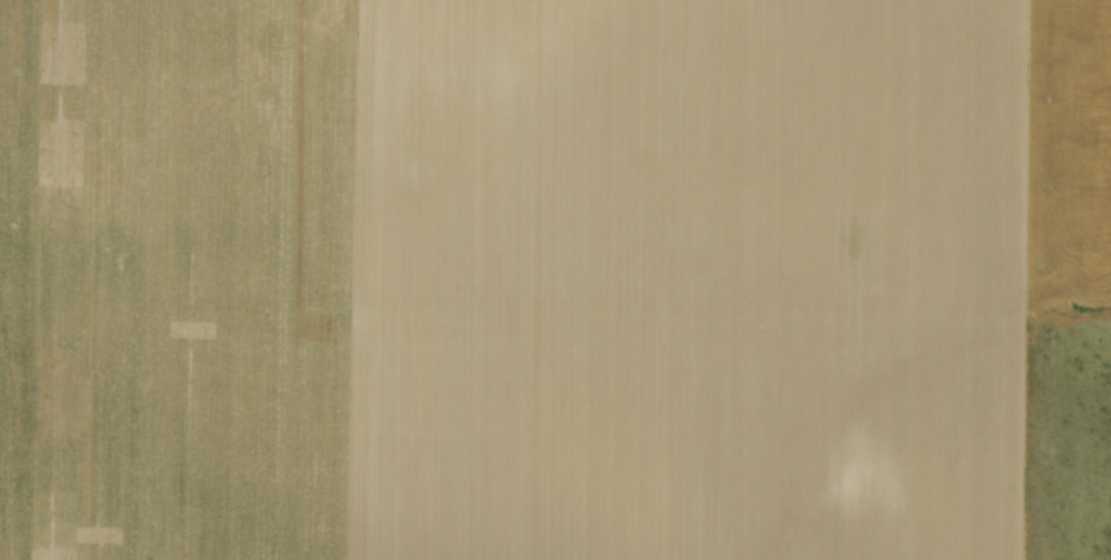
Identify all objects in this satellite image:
crop: (535, 274)

